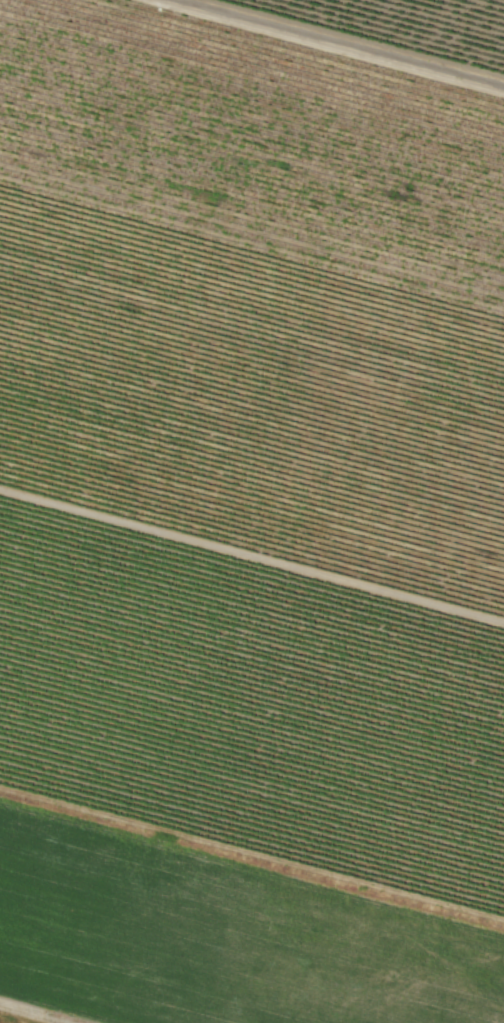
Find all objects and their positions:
road: (43, 1011)

